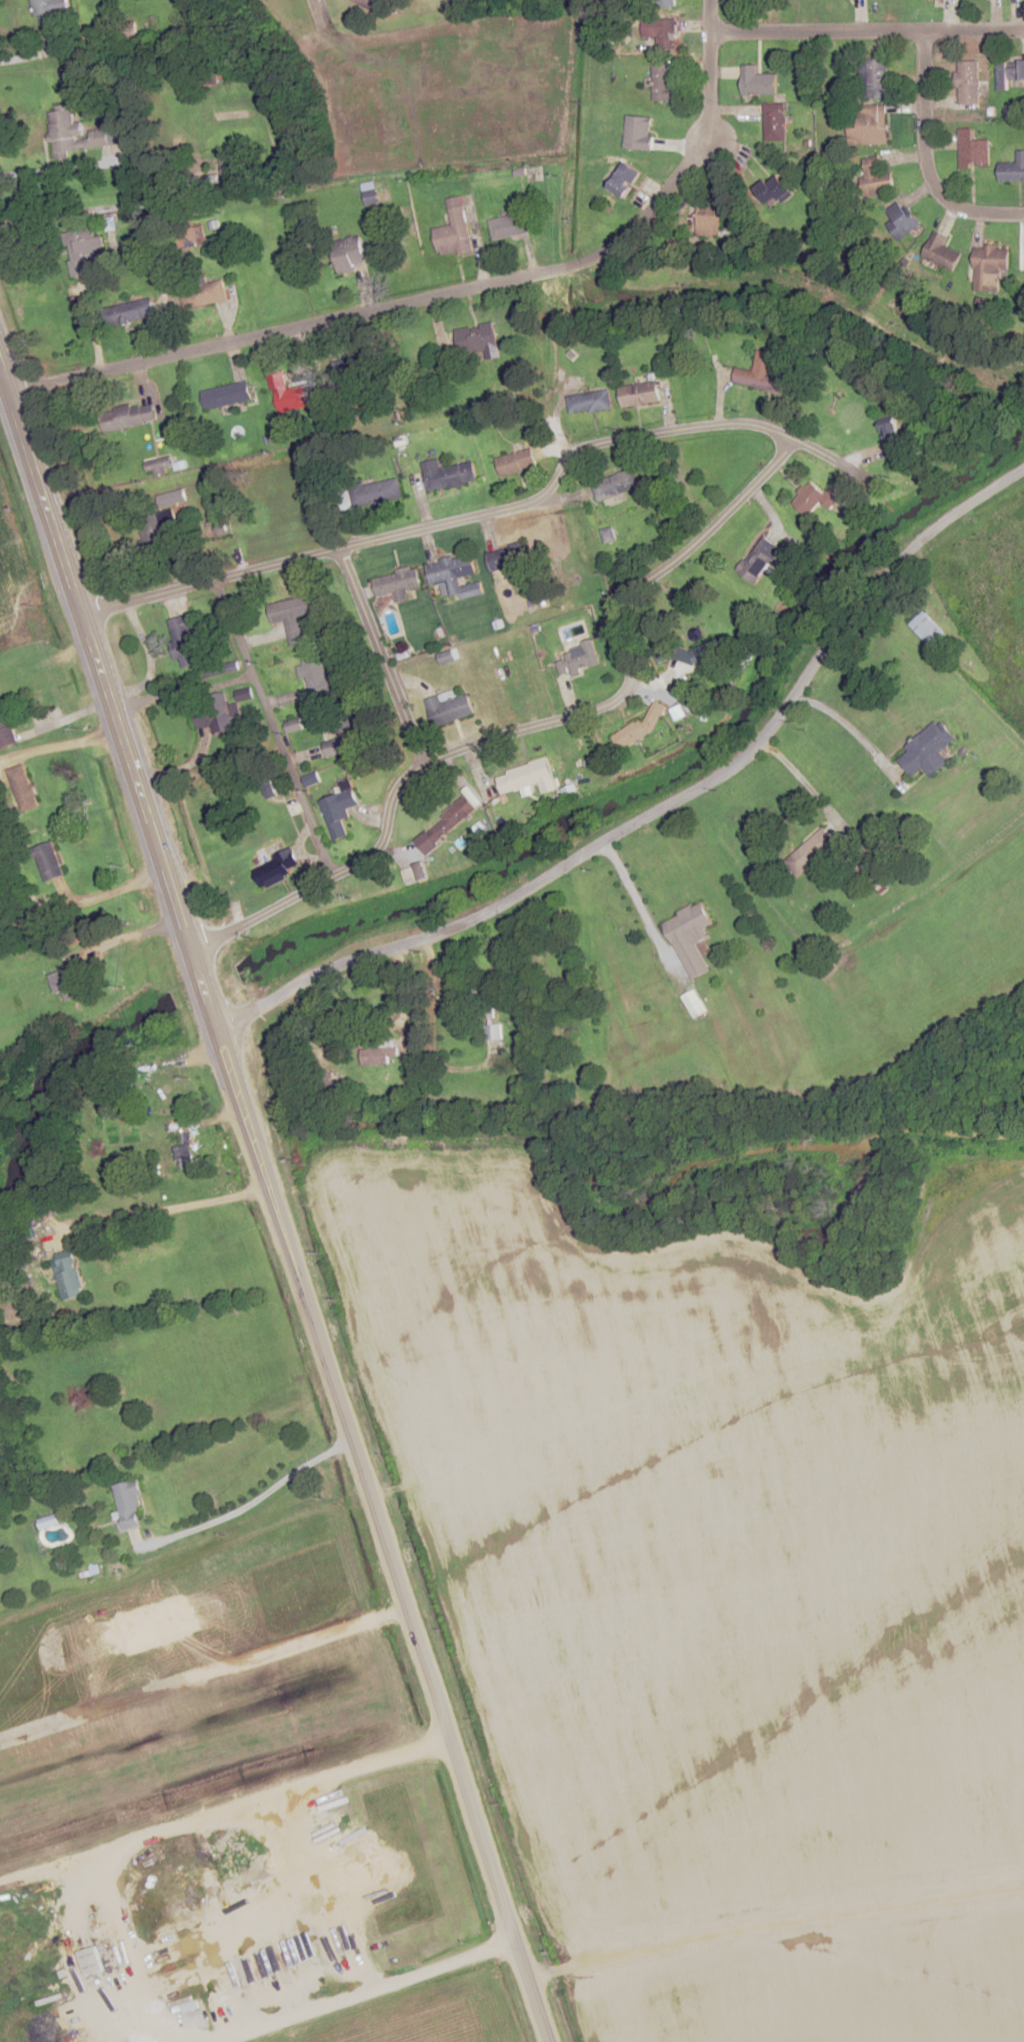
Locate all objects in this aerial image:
building: (369, 3)
building: (666, 3)
building: (44, 11)
road: (318, 11)
road: (704, 17)
road: (972, 30)
building: (127, 32)
building: (661, 32)
road: (812, 32)
road: (62, 38)
building: (1008, 72)
building: (873, 77)
building: (663, 81)
building: (757, 81)
building: (968, 81)
road: (703, 93)
building: (775, 120)
building: (870, 124)
building: (62, 130)
building: (639, 131)
building: (104, 136)
building: (973, 148)
road: (923, 158)
building: (1013, 168)
building: (625, 178)
building: (875, 178)
building: (773, 188)
building: (369, 192)
building: (902, 219)
building: (709, 220)
building: (508, 225)
building: (454, 229)
building: (198, 234)
building: (83, 249)
building: (941, 251)
building: (348, 252)
building: (989, 266)
building: (204, 292)
road: (372, 308)
building: (134, 310)
building: (480, 340)
building: (762, 372)
building: (288, 393)
building: (640, 393)
building: (225, 395)
building: (590, 401)
building: (127, 415)
building: (895, 438)
building: (515, 461)
building: (448, 474)
road: (763, 481)
road: (803, 482)
building: (615, 484)
building: (376, 491)
building: (815, 499)
building: (168, 524)
building: (514, 554)
building: (759, 558)
building: (456, 574)
building: (395, 583)
building: (296, 615)
building: (927, 628)
building: (183, 640)
building: (664, 653)
road: (387, 655)
building: (578, 658)
building: (316, 678)
building: (449, 707)
building: (218, 713)
building: (293, 726)
road: (268, 728)
building: (6, 731)
building: (339, 740)
building: (927, 750)
building: (530, 773)
road: (804, 784)
building: (23, 787)
road: (663, 805)
building: (338, 811)
building: (452, 819)
building: (427, 842)
building: (811, 853)
building: (48, 861)
building: (282, 866)
building: (30, 920)
building: (690, 937)
building: (69, 982)
building: (483, 1002)
building: (694, 1004)
building: (494, 1031)
building: (380, 1054)
building: (159, 1095)
building: (183, 1150)
road: (156, 1209)
road: (273, 1210)
building: (69, 1274)
building: (129, 1504)
road: (247, 1504)
building: (134, 1536)
road: (224, 1815)
road: (774, 1929)
building: (91, 1960)
road: (364, 1992)
road: (145, 2036)

